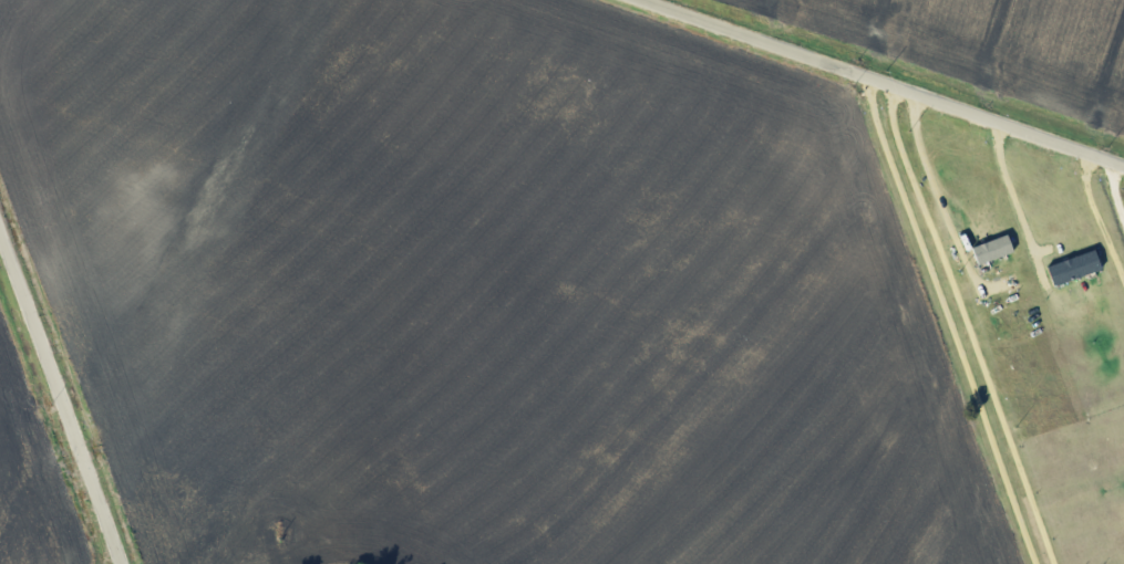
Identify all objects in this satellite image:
road: (885, 80)
road: (938, 195)
road: (1013, 198)
road: (1096, 218)
building: (994, 249)
road: (948, 320)
road: (967, 324)
road: (61, 397)

